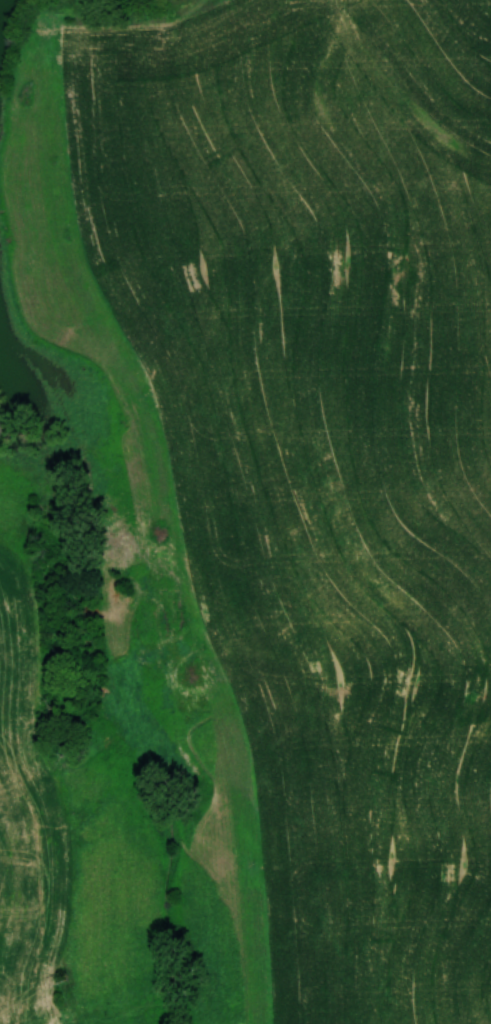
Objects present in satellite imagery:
power tower: (68, 985)

